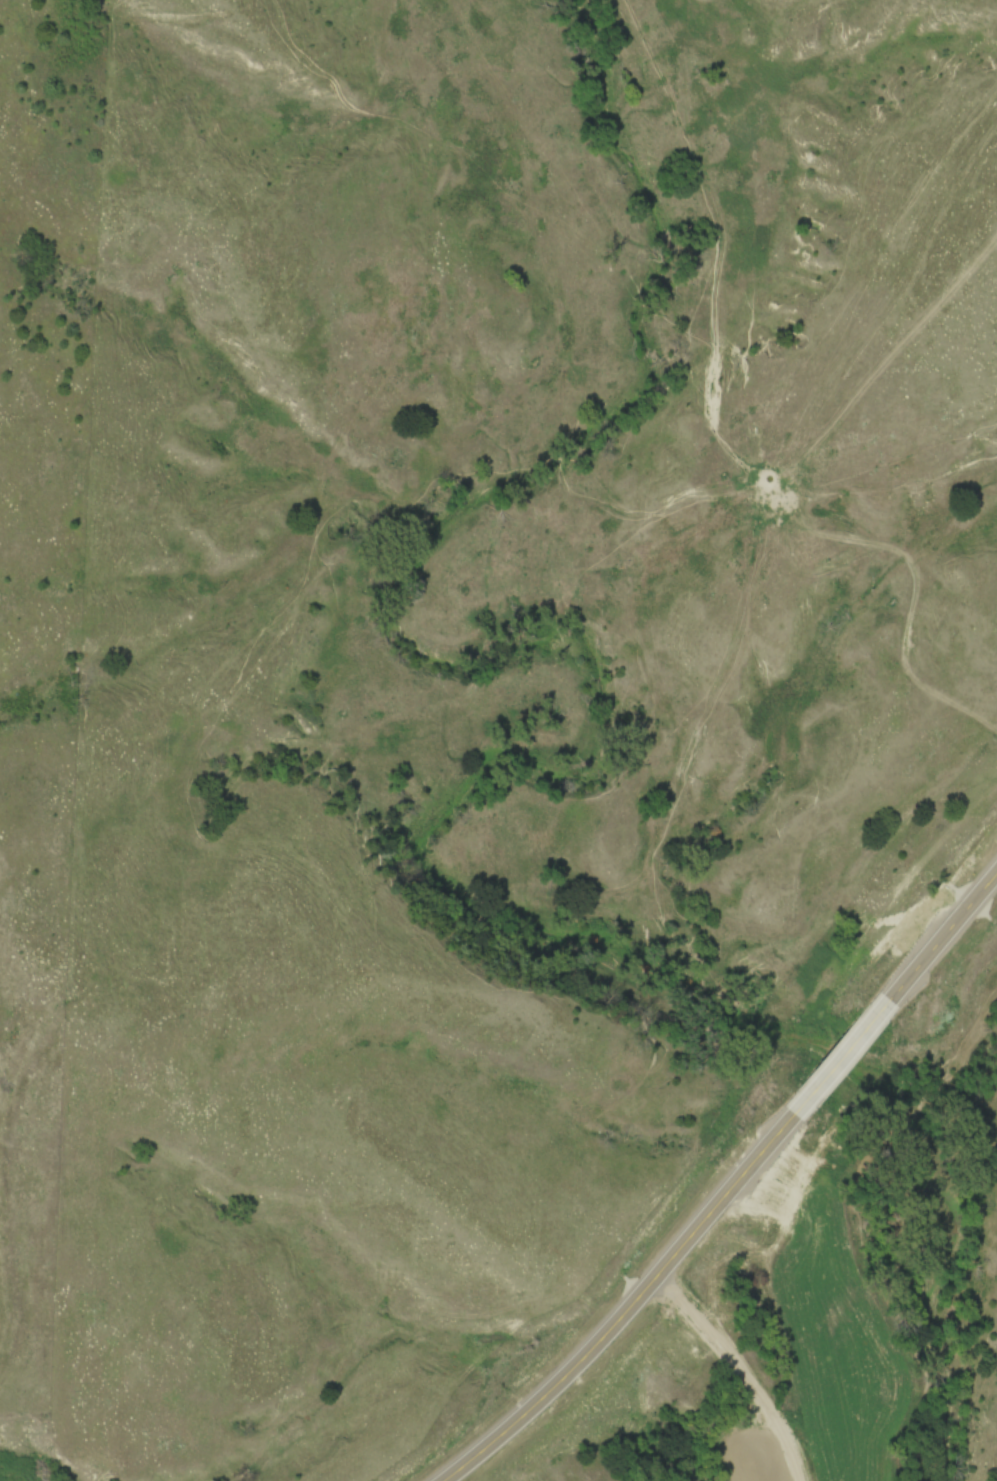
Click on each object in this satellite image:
road: (945, 940)
road: (847, 1060)
road: (626, 1304)
airport: (30, 1307)

